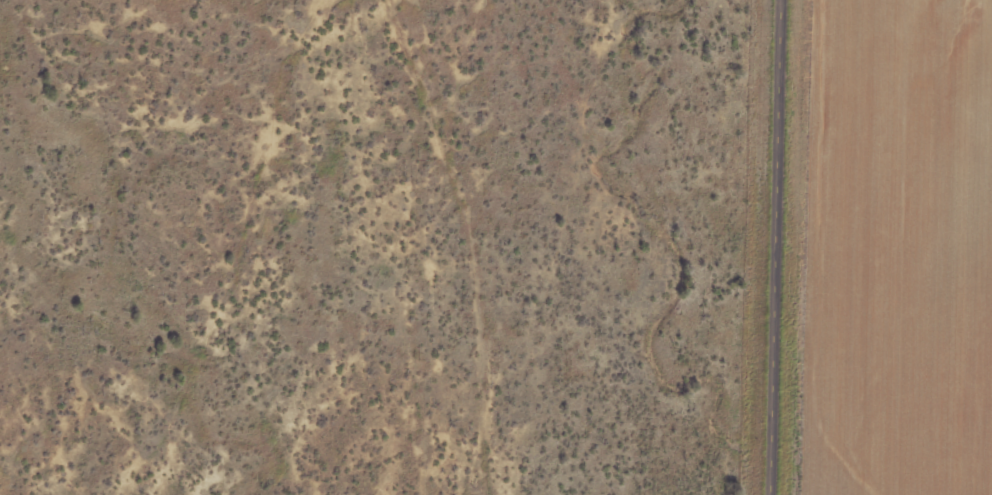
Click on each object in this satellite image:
road: (771, 247)

